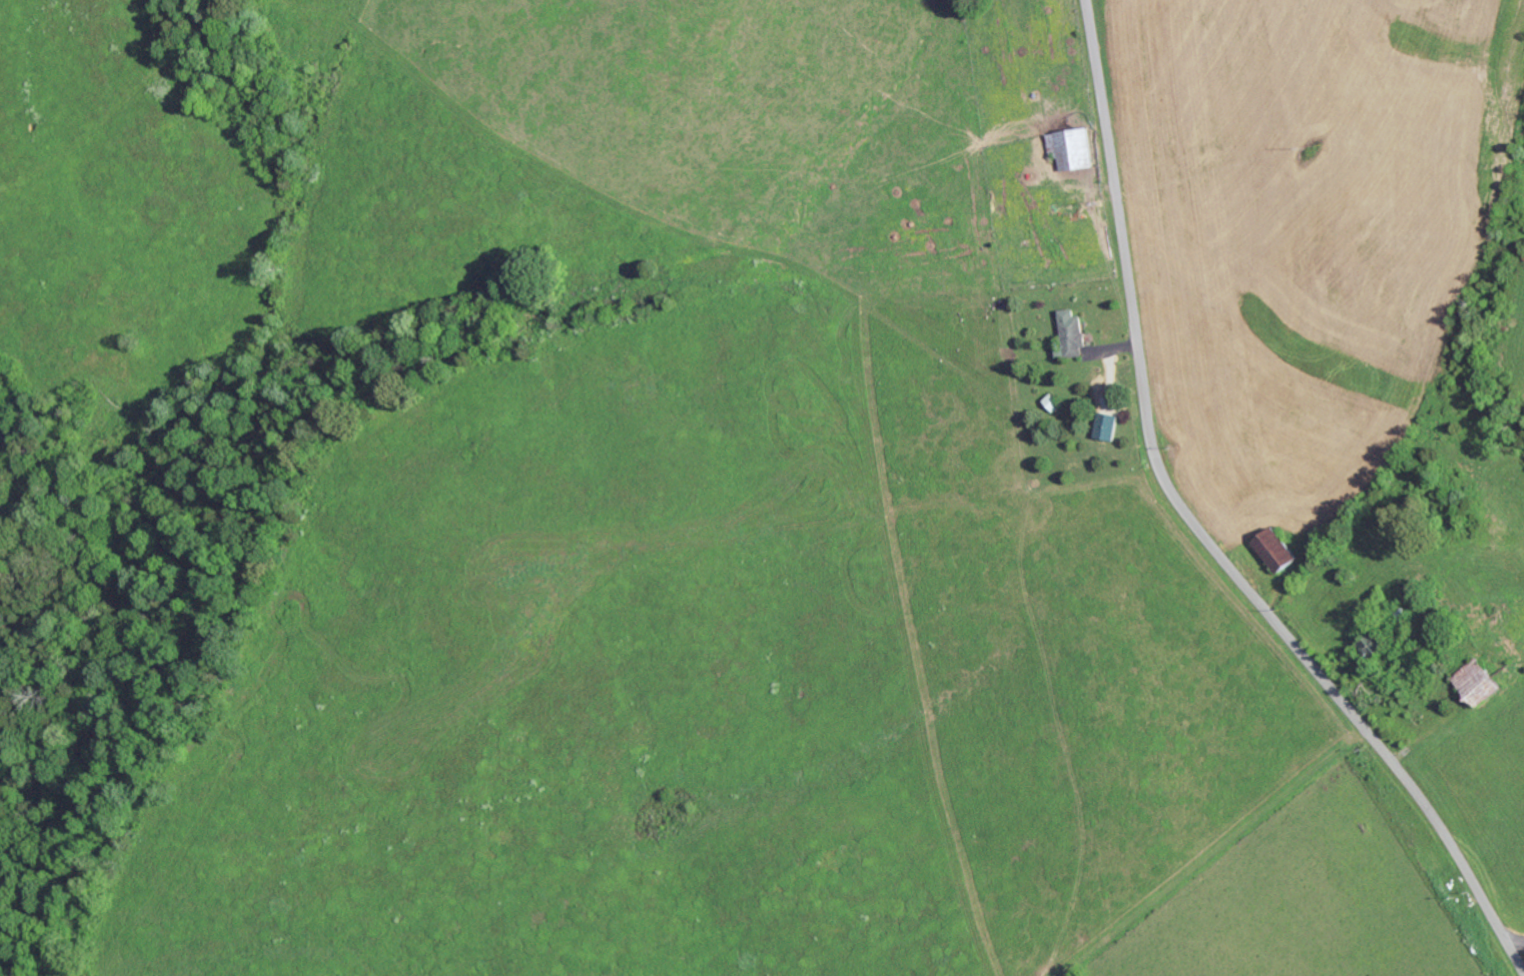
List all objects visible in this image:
building: (1073, 148)
building: (1075, 332)
building: (1053, 402)
building: (1108, 426)
road: (1199, 530)
building: (1277, 551)
road: (1517, 946)

